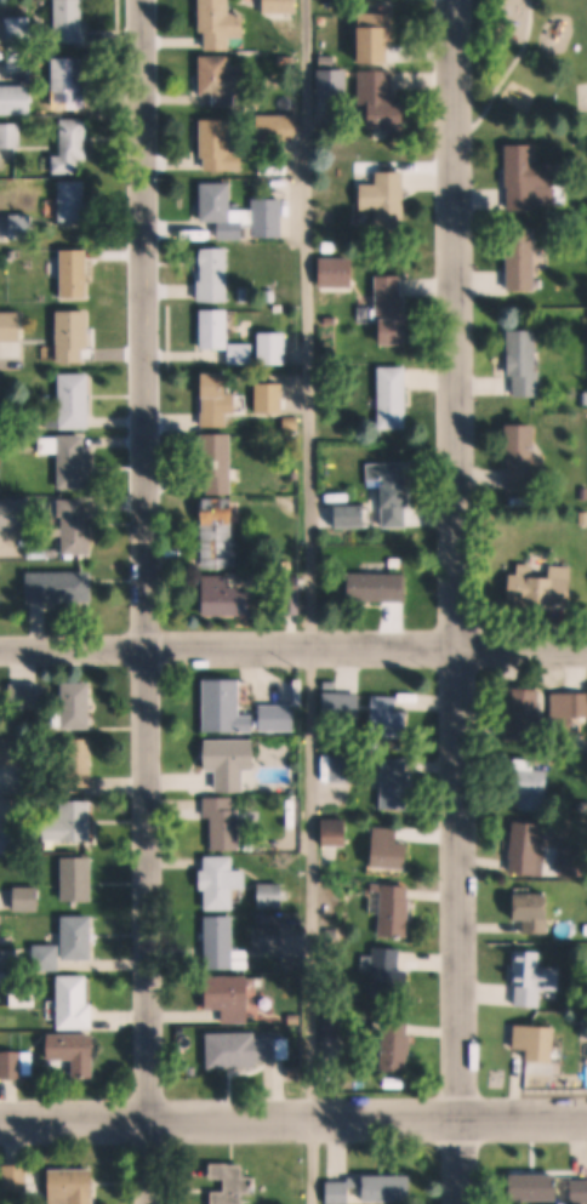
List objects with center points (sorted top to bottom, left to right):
building: (283, 6)
building: (73, 21)
building: (223, 23)
building: (22, 29)
building: (377, 35)
building: (286, 59)
building: (6, 64)
park: (530, 70)
road: (503, 76)
building: (72, 79)
building: (222, 80)
building: (336, 82)
park: (582, 96)
building: (383, 97)
building: (17, 98)
building: (280, 127)
building: (11, 135)
building: (75, 144)
building: (222, 145)
building: (531, 178)
building: (75, 200)
building: (388, 200)
building: (222, 210)
building: (269, 218)
building: (338, 232)
building: (330, 247)
building: (524, 259)
building: (340, 273)
building: (76, 275)
building: (217, 276)
building: (244, 298)
building: (280, 309)
building: (393, 312)
building: (330, 321)
building: (217, 331)
building: (75, 338)
building: (244, 355)
building: (525, 363)
building: (394, 399)
building: (75, 401)
building: (218, 403)
building: (291, 413)
building: (525, 458)
building: (220, 466)
building: (76, 469)
building: (393, 491)
building: (353, 518)
building: (76, 527)
building: (221, 535)
building: (0, 567)
building: (61, 587)
building: (381, 587)
building: (543, 587)
building: (226, 597)
road: (144, 601)
road: (312, 601)
road: (461, 601)
road: (293, 649)
building: (337, 689)
building: (22, 696)
building: (78, 706)
building: (227, 708)
building: (569, 708)
building: (529, 715)
building: (280, 719)
building: (389, 720)
building: (16, 753)
building: (81, 759)
building: (232, 763)
building: (398, 786)
building: (535, 787)
building: (227, 824)
building: (73, 826)
building: (336, 833)
building: (12, 840)
building: (393, 851)
building: (530, 851)
building: (574, 862)
building: (80, 879)
building: (224, 883)
building: (273, 896)
building: (28, 900)
building: (301, 908)
building: (395, 911)
building: (537, 914)
building: (267, 920)
building: (586, 931)
building: (80, 937)
building: (272, 941)
building: (226, 946)
building: (49, 957)
building: (395, 972)
building: (537, 980)
building: (25, 993)
building: (232, 997)
building: (74, 1002)
building: (295, 1018)
building: (341, 1022)
building: (399, 1043)
building: (537, 1045)
building: (246, 1049)
building: (76, 1051)
building: (12, 1065)
building: (301, 1086)
road: (293, 1119)
building: (18, 1176)
building: (233, 1183)
building: (75, 1186)
building: (372, 1187)
building: (538, 1187)
building: (580, 1191)

